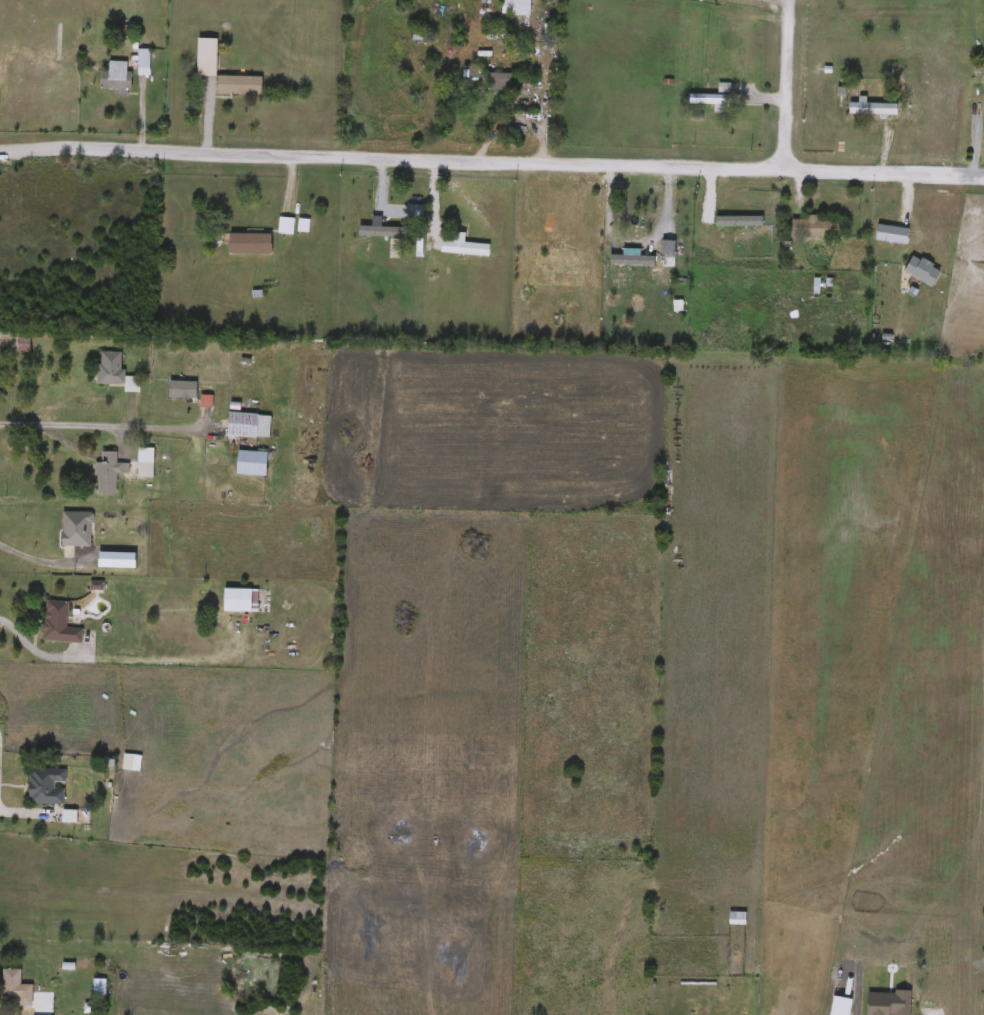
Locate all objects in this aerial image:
building: (515, 8)
building: (550, 33)
building: (207, 58)
building: (143, 62)
building: (115, 76)
building: (484, 79)
road: (784, 79)
building: (241, 85)
road: (541, 88)
building: (709, 100)
building: (874, 109)
road: (491, 151)
building: (643, 222)
building: (818, 227)
building: (249, 241)
building: (663, 250)
building: (922, 270)
building: (823, 286)
road: (5, 339)
building: (23, 343)
building: (109, 368)
building: (132, 383)
building: (183, 389)
building: (249, 425)
road: (97, 427)
building: (253, 463)
building: (108, 473)
road: (38, 561)
building: (241, 599)
building: (59, 623)
road: (35, 657)
building: (128, 761)
building: (47, 785)
road: (26, 810)
building: (11, 983)

